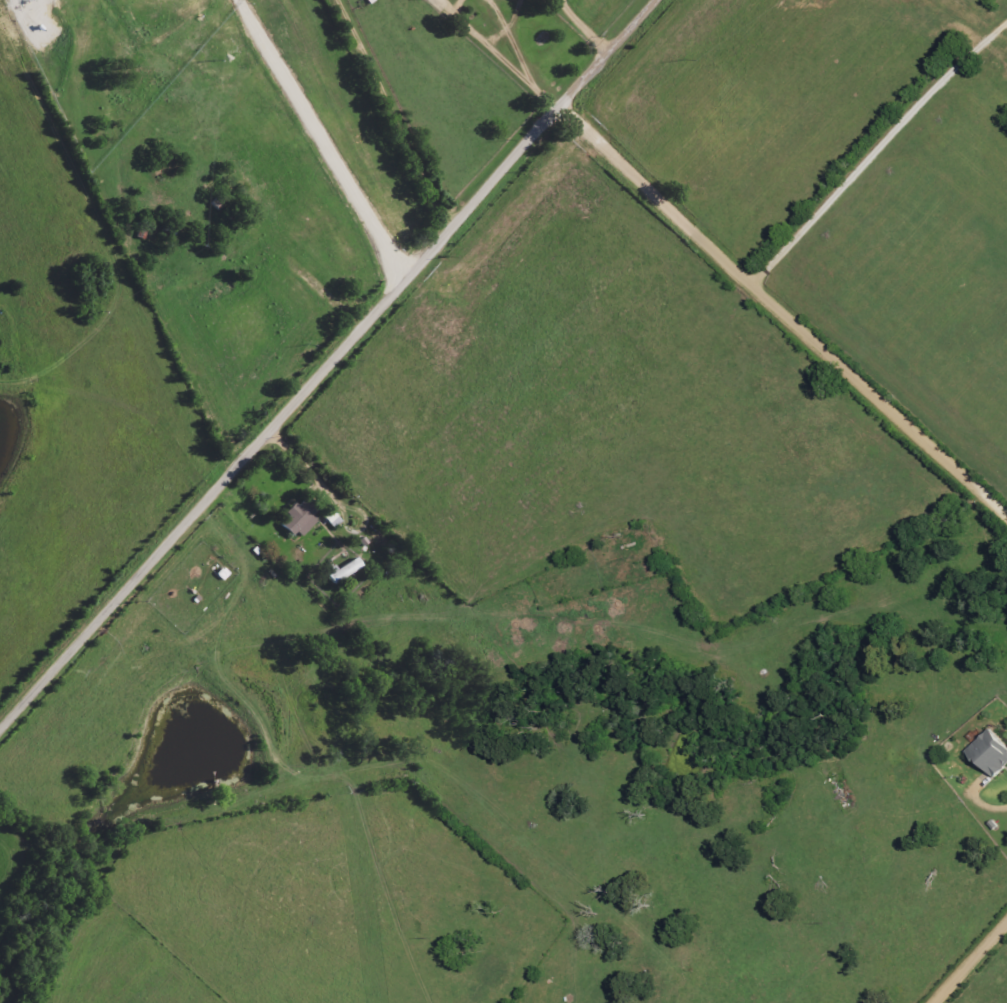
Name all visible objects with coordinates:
road: (581, 27)
road: (514, 36)
road: (491, 39)
road: (545, 91)
road: (781, 313)
road: (330, 370)
building: (301, 518)
building: (334, 520)
building: (347, 570)
building: (992, 753)
road: (984, 808)
road: (971, 963)

